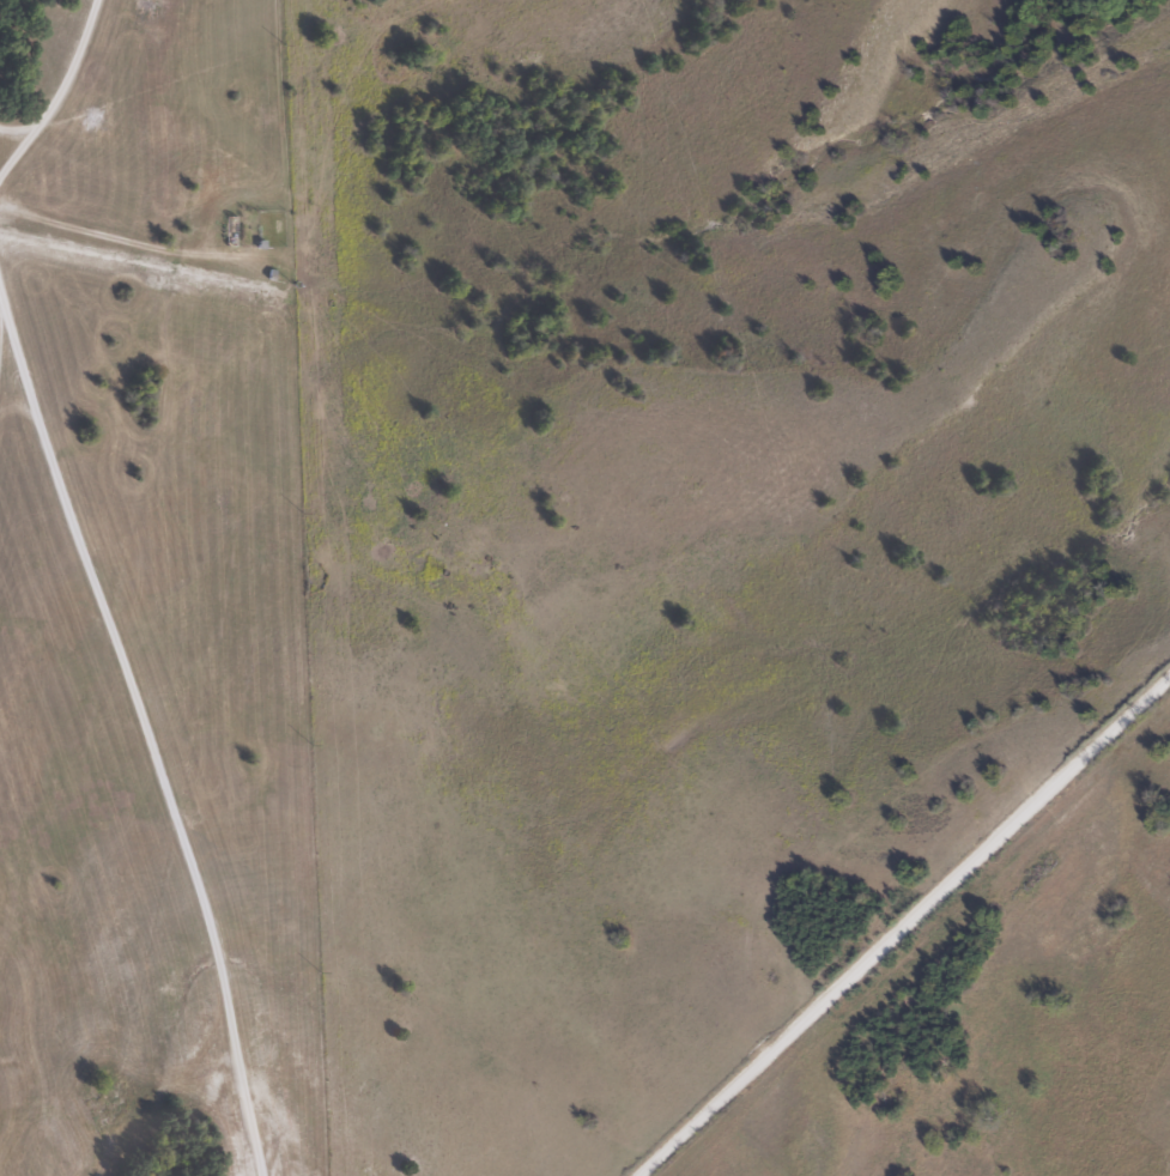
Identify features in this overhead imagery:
road: (56, 92)
road: (140, 728)
road: (898, 922)
building: (98, 1116)

